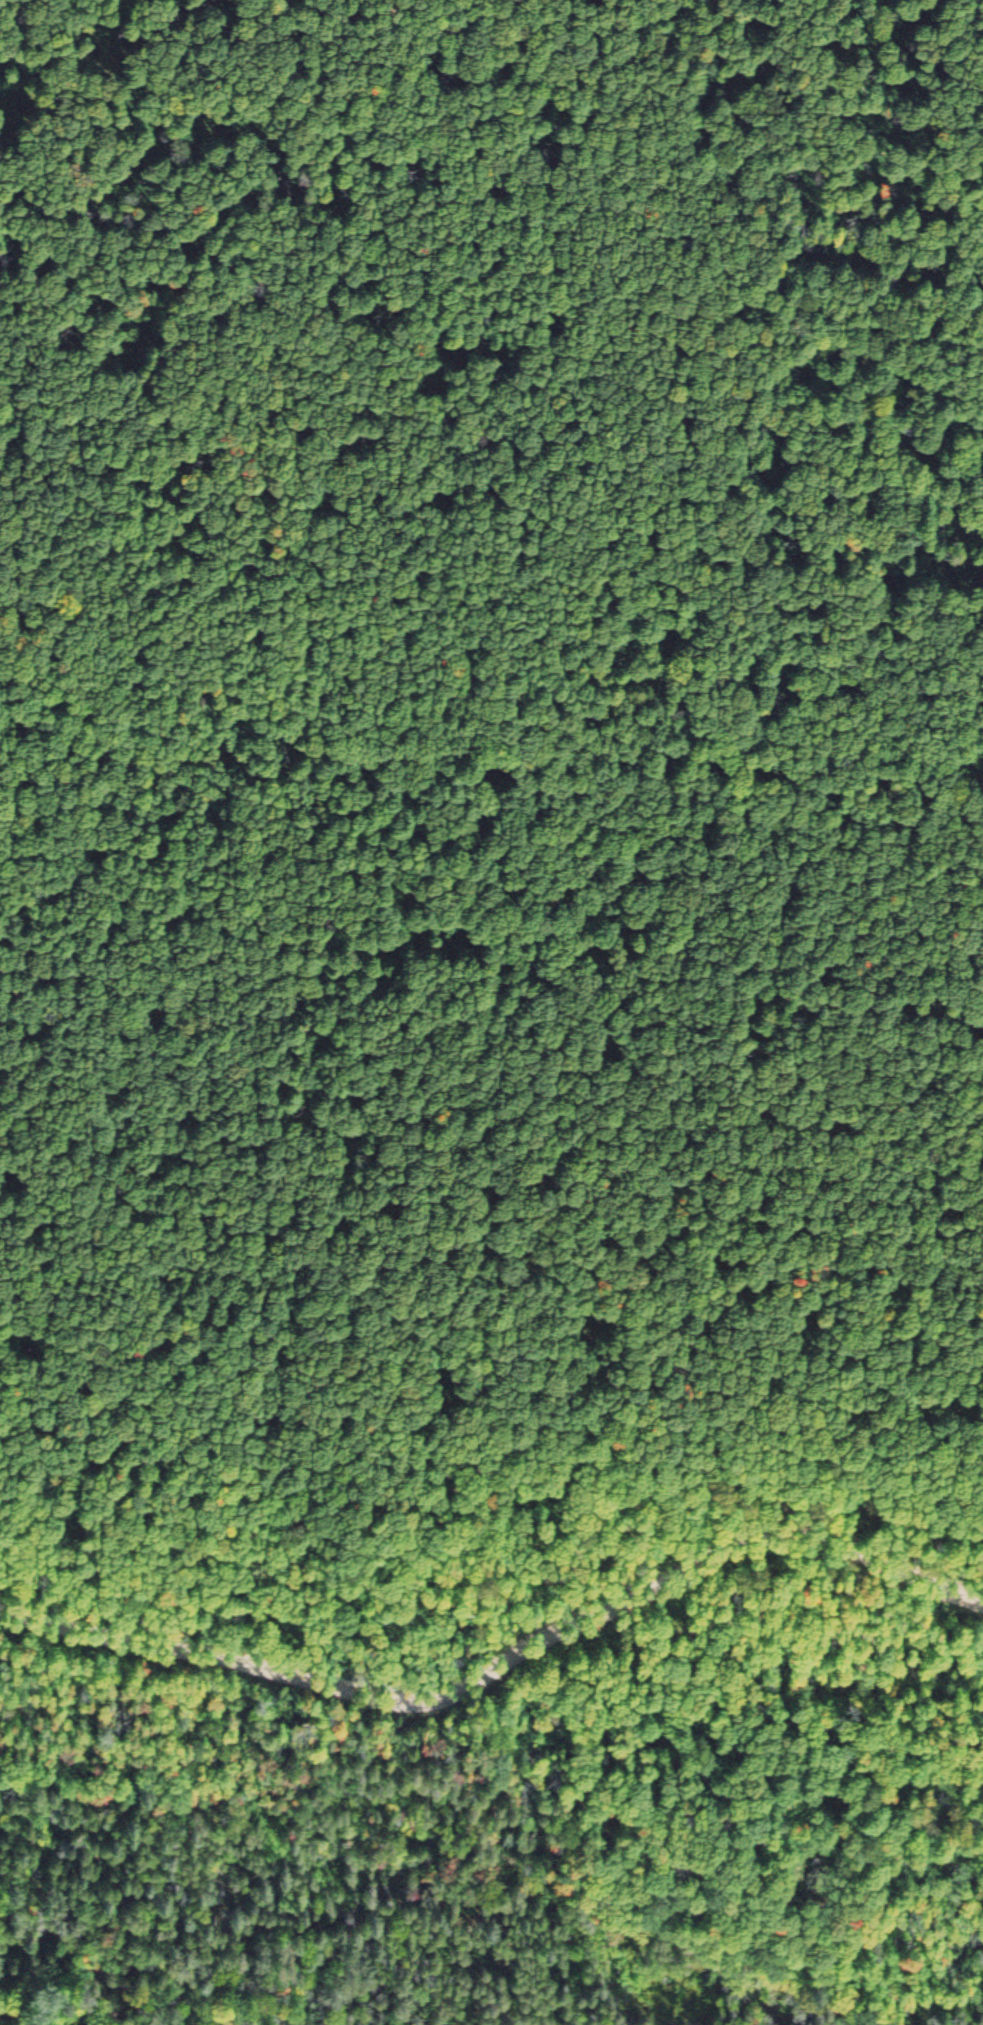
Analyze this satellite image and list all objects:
road: (500, 1662)

